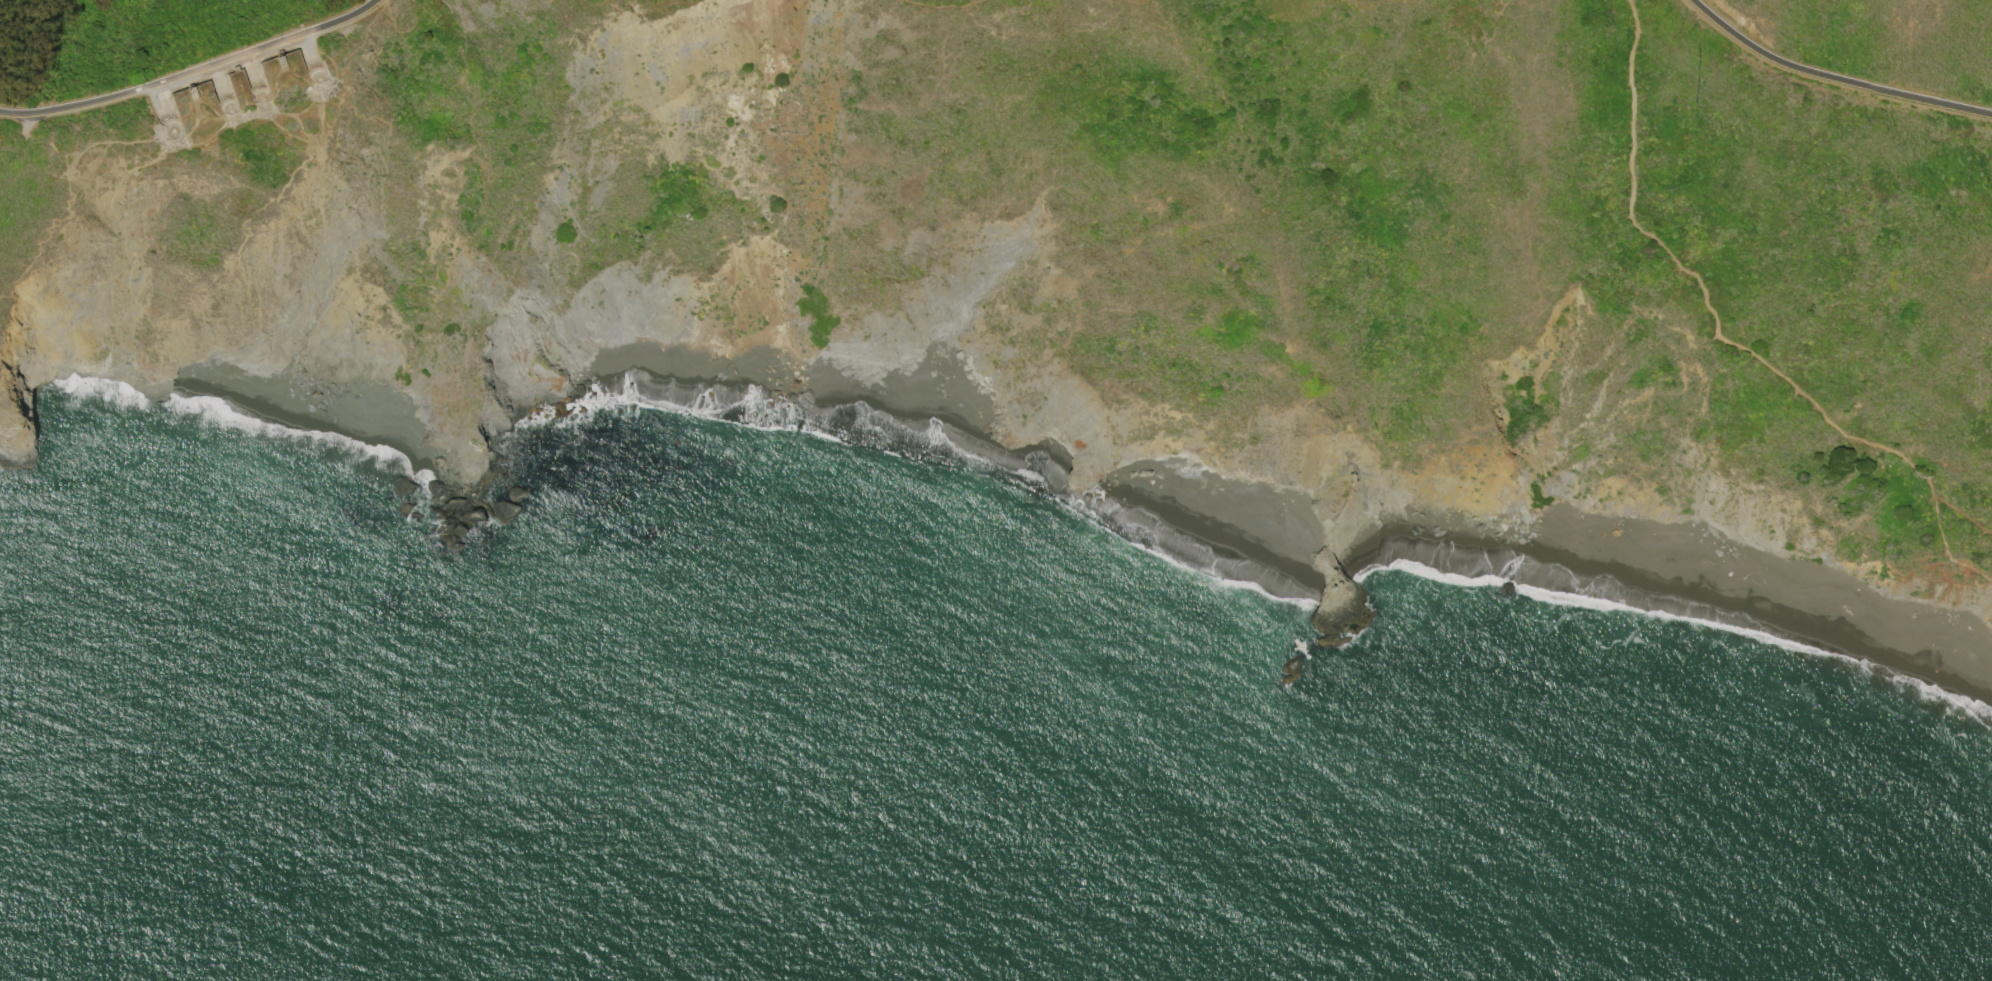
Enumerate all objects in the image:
parking lot: (1610, 1)
road: (194, 73)
road: (1832, 81)
road: (1827, 83)
road: (1720, 320)

